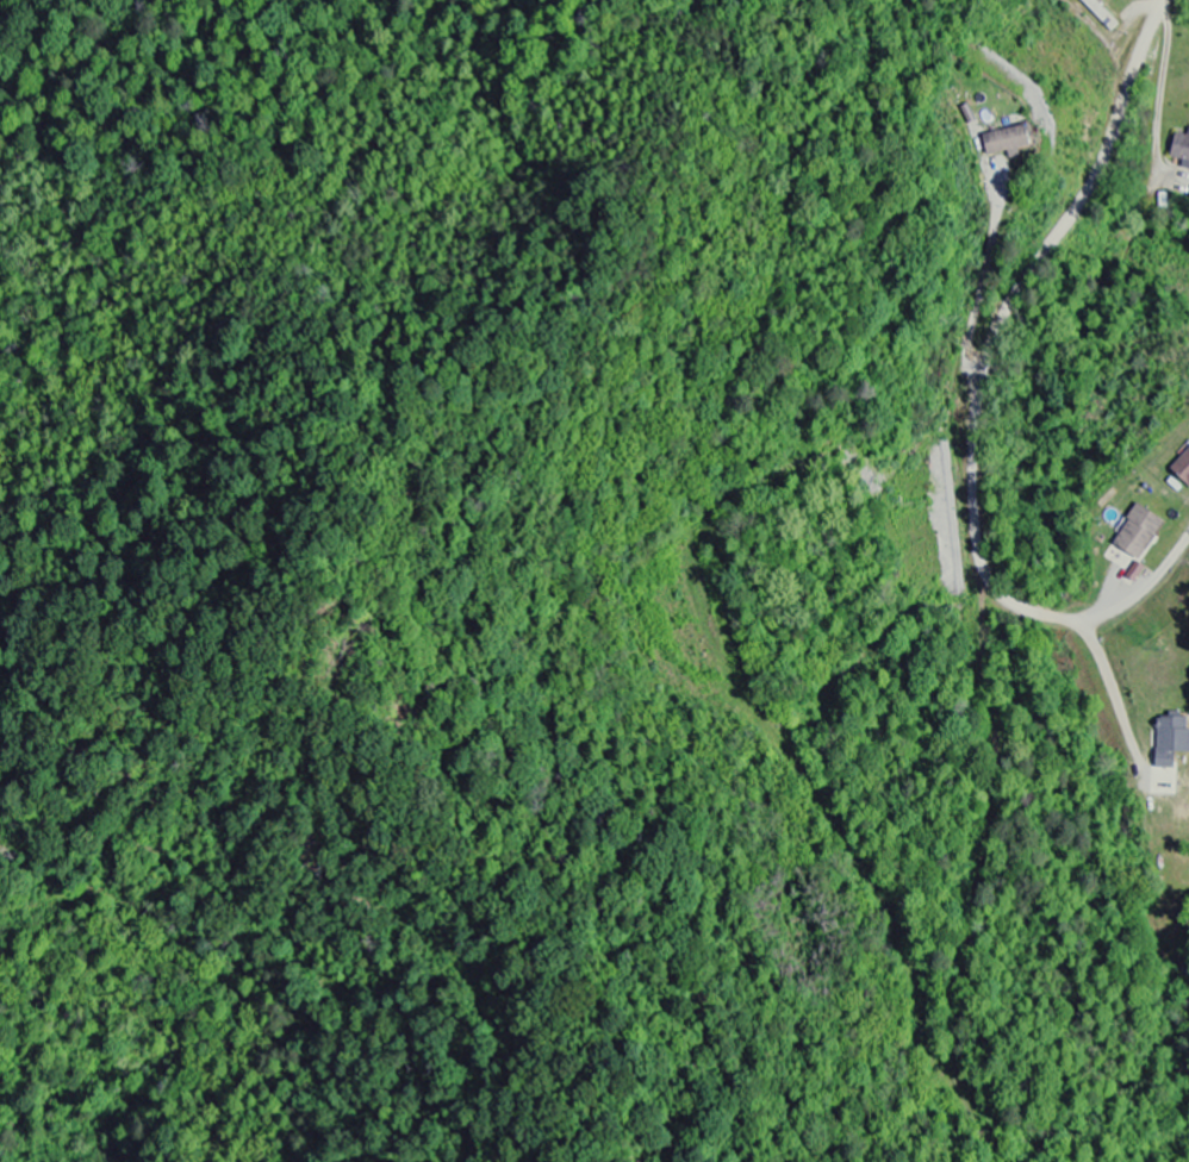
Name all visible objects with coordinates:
road: (1159, 1)
building: (1003, 142)
building: (1179, 150)
building: (1181, 470)
building: (1135, 533)
building: (1169, 741)

